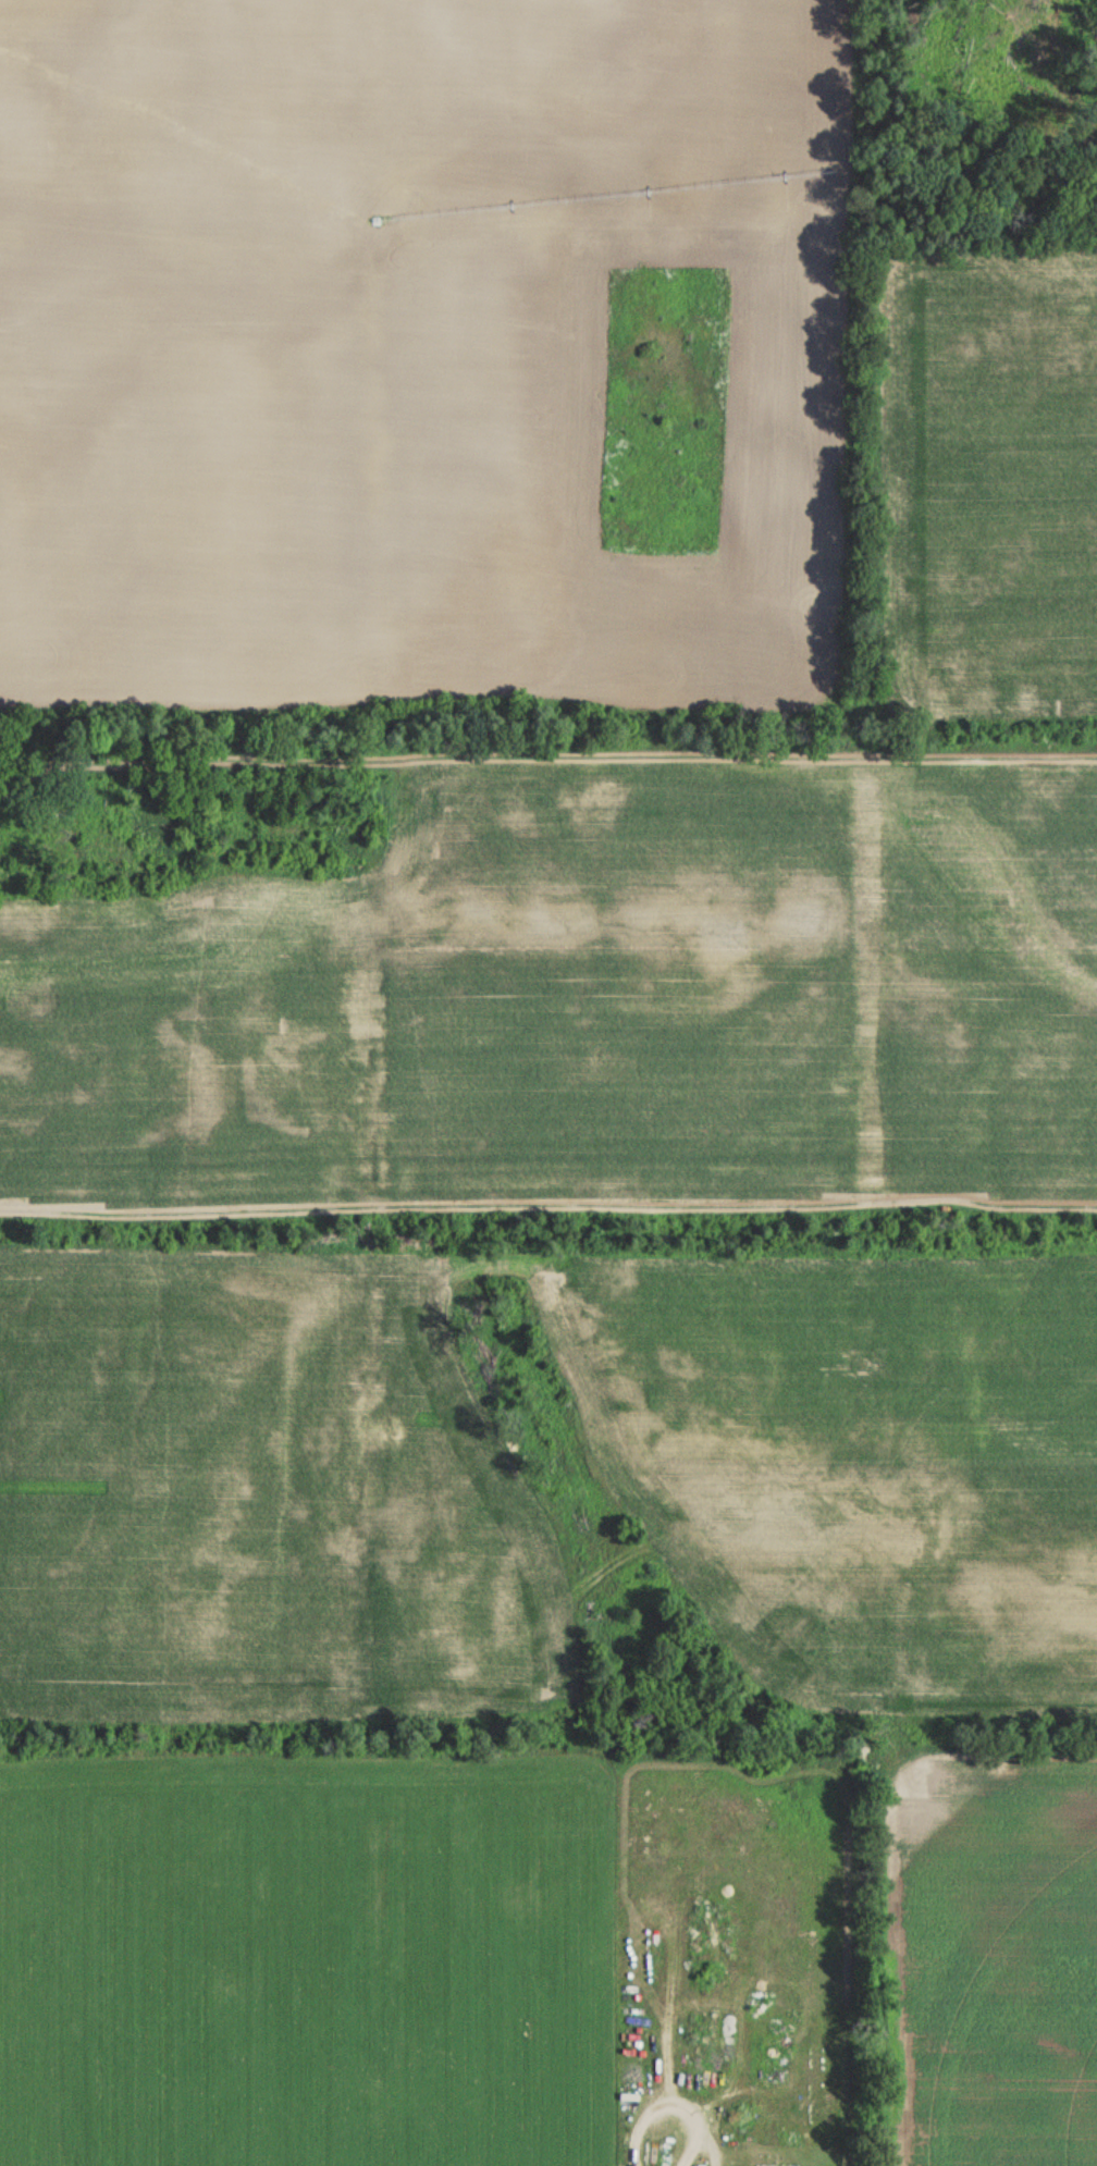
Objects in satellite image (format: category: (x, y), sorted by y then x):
road: (548, 711)

